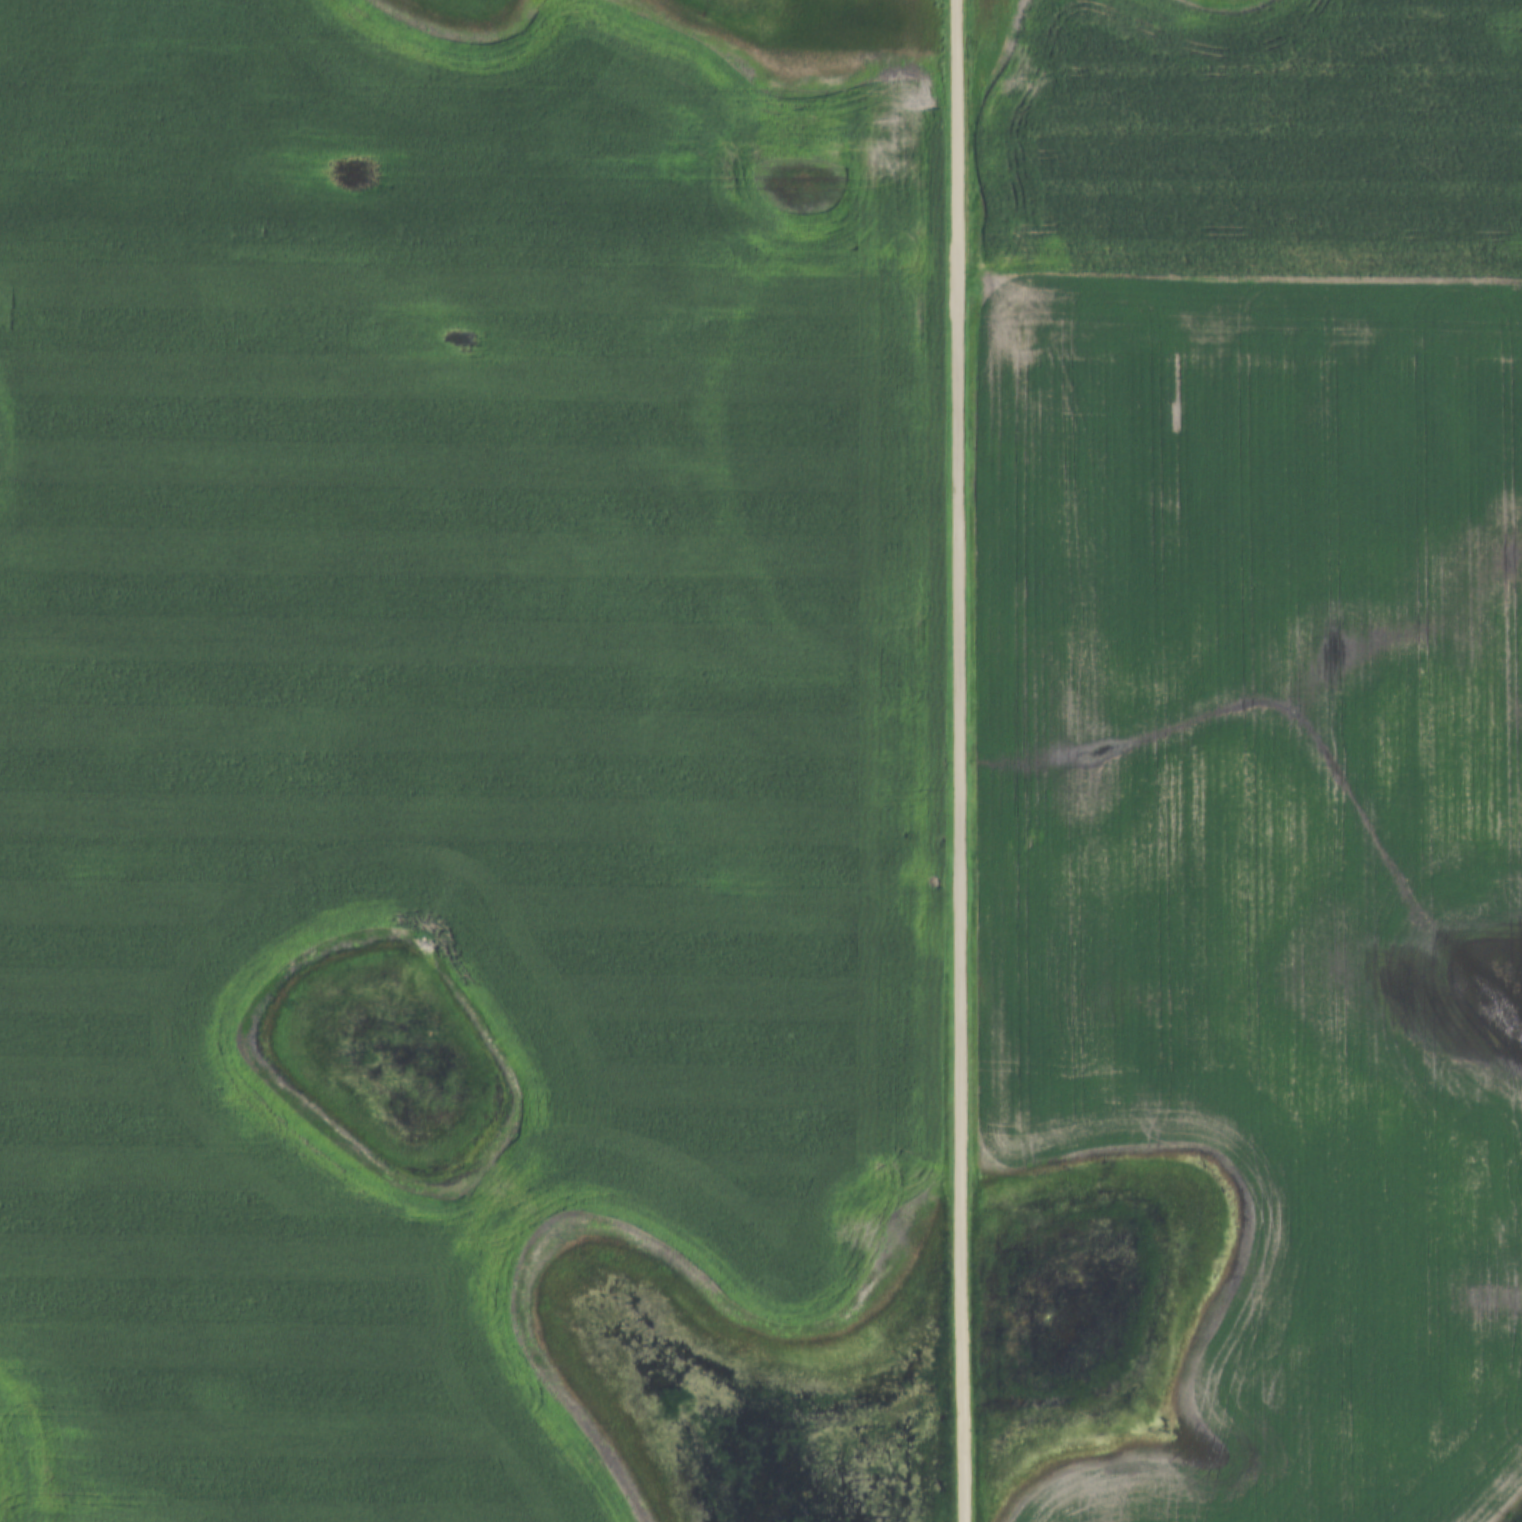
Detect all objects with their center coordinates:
road: (962, 761)

